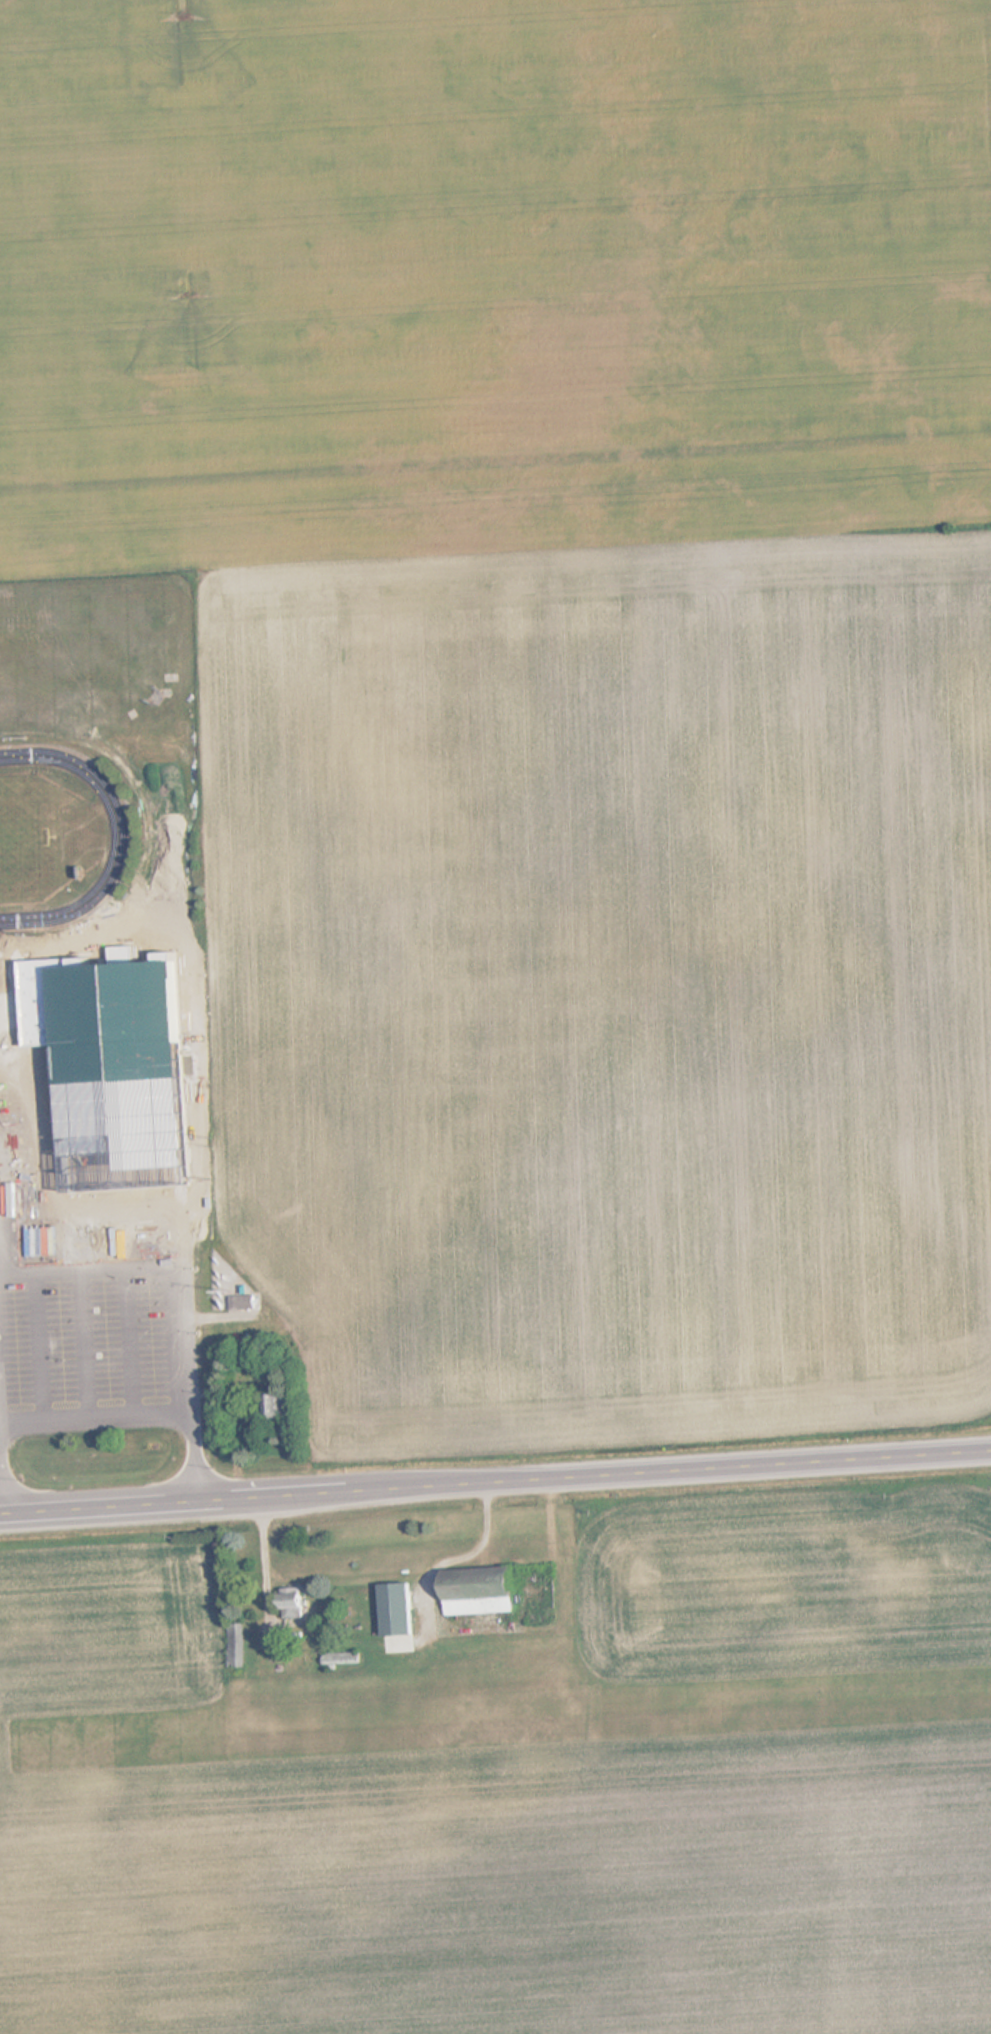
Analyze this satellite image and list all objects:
park: (25, 841)
track: (122, 843)
building: (32, 954)
building: (106, 1066)
road: (163, 1206)
road: (15, 1209)
road: (91, 1268)
building: (245, 1302)
road: (126, 1341)
road: (83, 1344)
road: (37, 1346)
building: (278, 1406)
road: (97, 1418)
road: (495, 1484)
building: (484, 1594)
building: (298, 1604)
building: (239, 1645)
building: (344, 1659)

